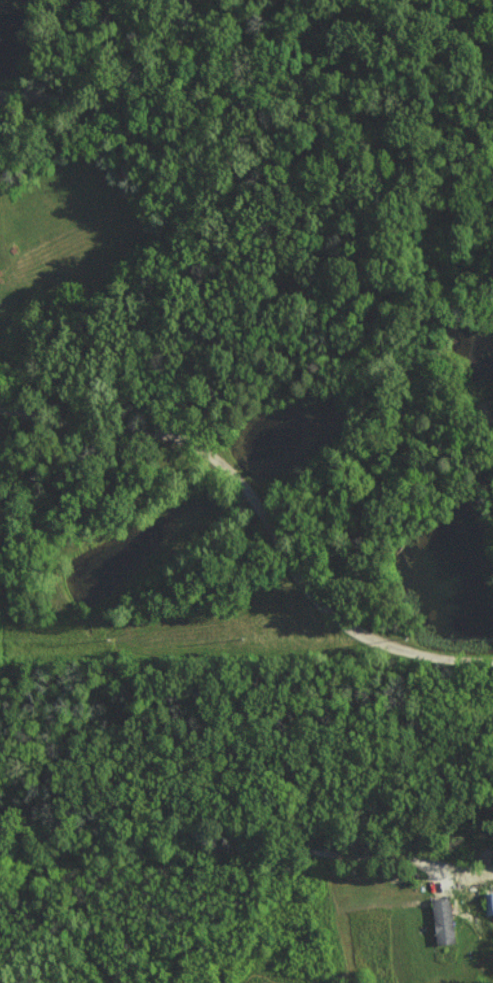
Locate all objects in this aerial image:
road: (125, 98)
road: (353, 349)
road: (474, 400)
road: (273, 420)
road: (134, 442)
road: (214, 847)
building: (488, 902)
building: (440, 920)

